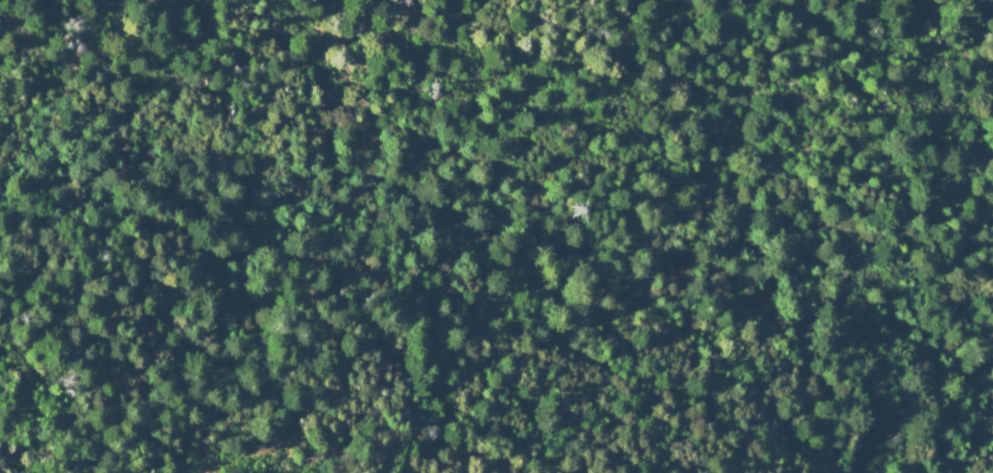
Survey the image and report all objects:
road: (558, 241)

